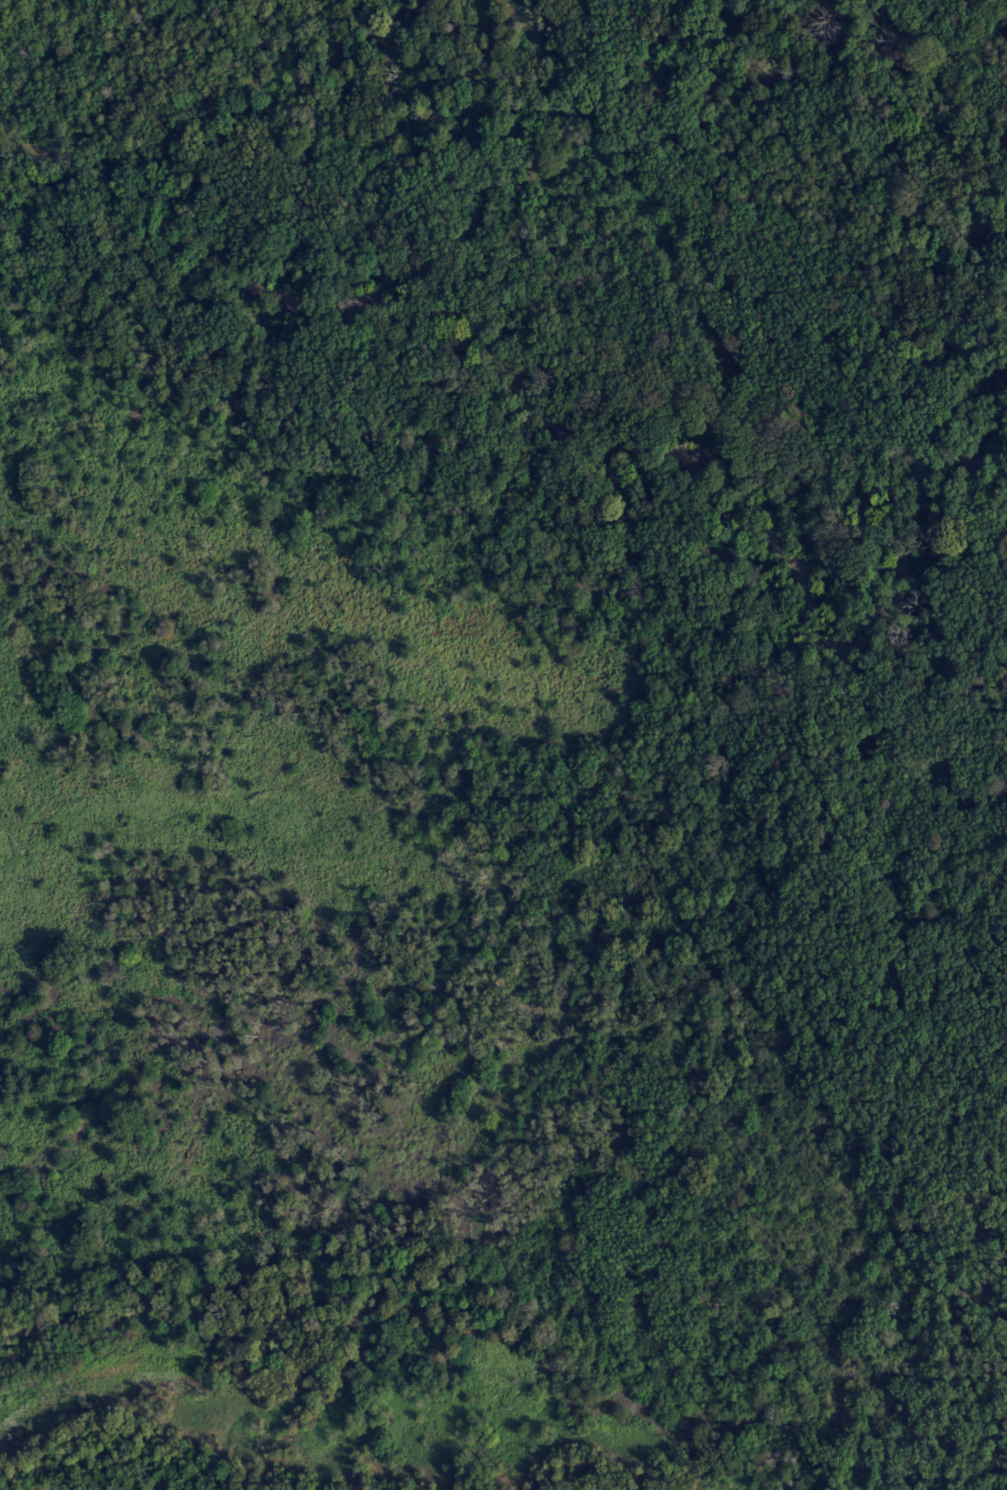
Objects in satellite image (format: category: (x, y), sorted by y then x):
road: (381, 232)

